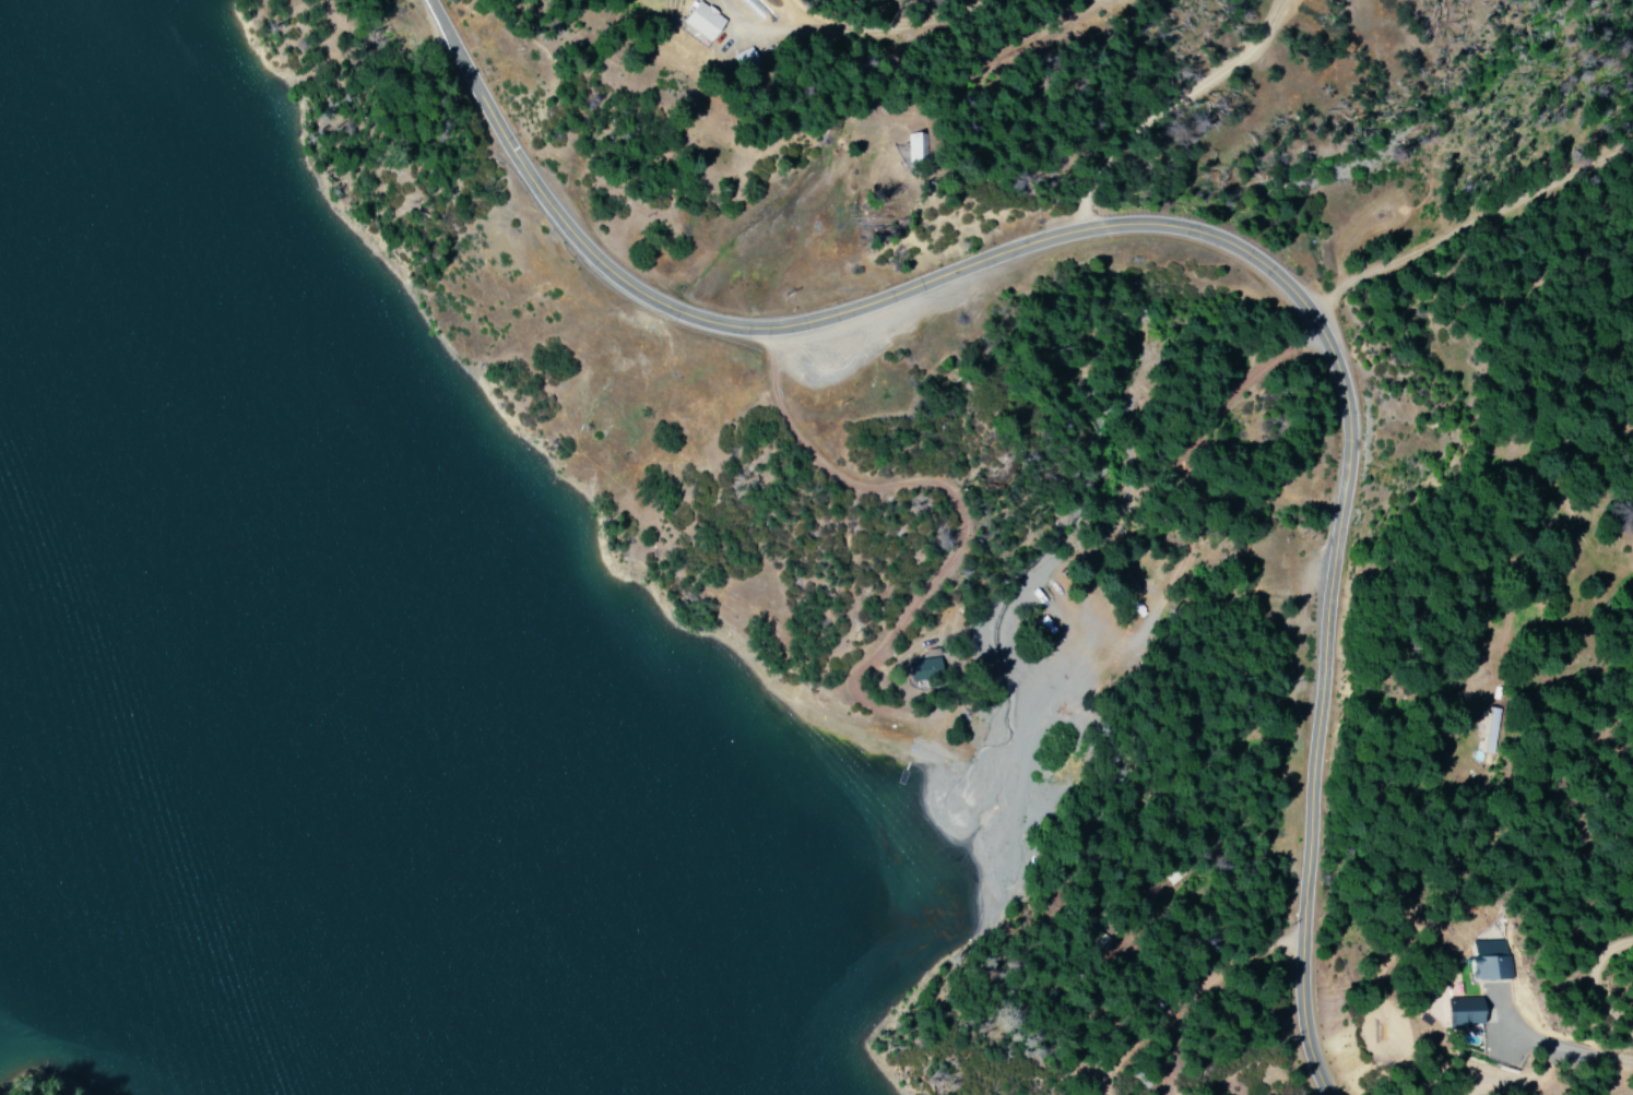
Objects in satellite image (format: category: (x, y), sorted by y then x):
building: (700, 21)
road: (970, 49)
road: (1108, 120)
road: (1467, 200)
road: (1212, 270)
road: (734, 431)
road: (1553, 445)
road: (1137, 455)
building: (923, 669)
river: (241, 711)
building: (1507, 734)
road: (1257, 829)
building: (1460, 1012)
river: (551, 1057)

